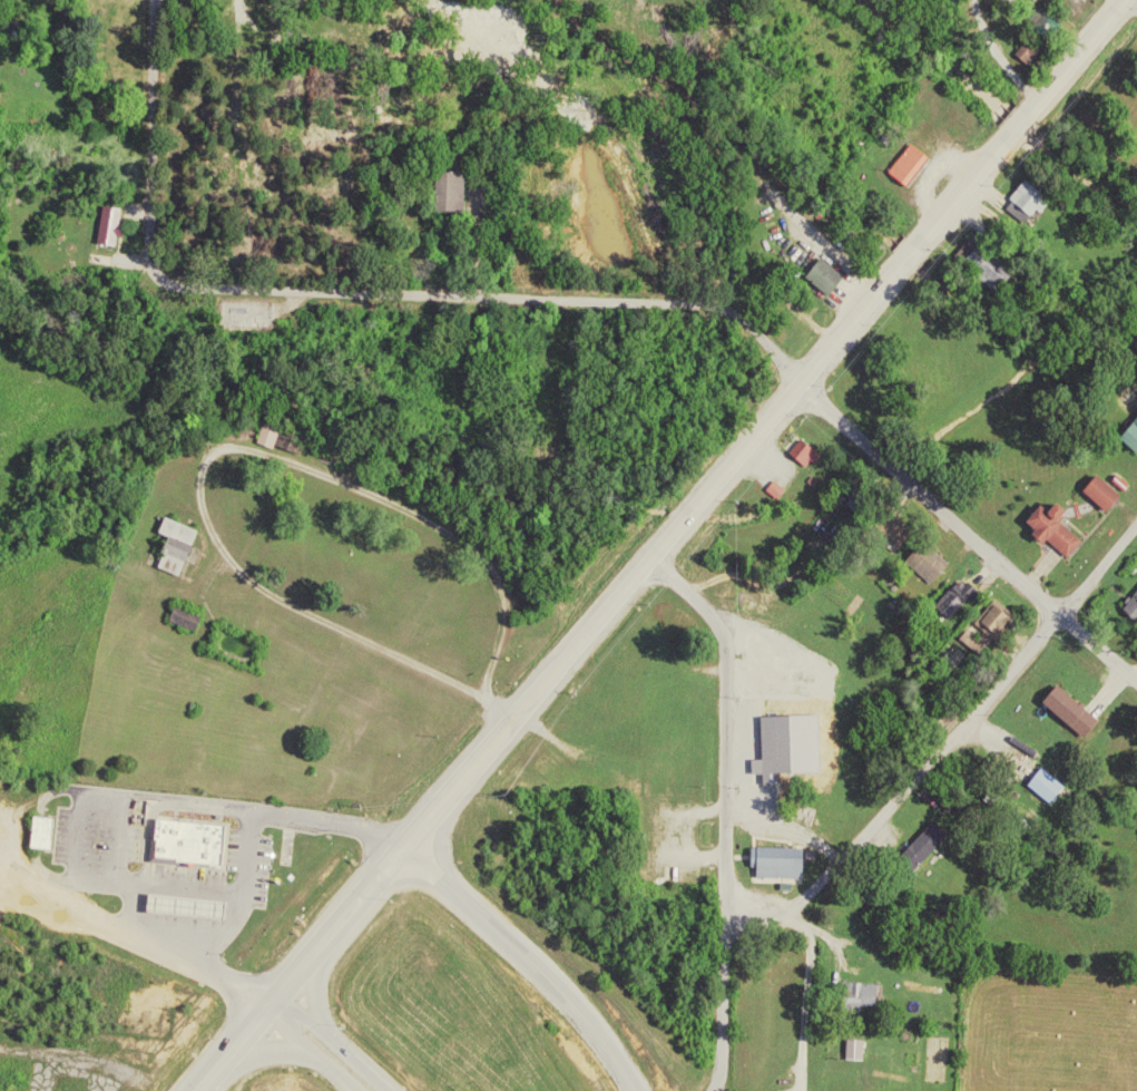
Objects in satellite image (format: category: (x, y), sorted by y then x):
building: (1041, 20)
building: (1025, 47)
road: (1076, 52)
road: (1018, 121)
building: (905, 162)
building: (454, 192)
building: (1025, 199)
building: (109, 225)
building: (984, 257)
building: (821, 271)
road: (354, 292)
building: (1129, 426)
building: (264, 437)
building: (798, 449)
road: (217, 457)
building: (772, 486)
building: (1099, 487)
building: (1049, 523)
road: (967, 532)
building: (177, 546)
building: (923, 556)
road: (641, 566)
building: (949, 592)
building: (1130, 598)
building: (954, 601)
building: (185, 620)
building: (984, 624)
building: (1068, 705)
road: (724, 724)
building: (783, 740)
road: (942, 744)
building: (1041, 780)
building: (43, 834)
building: (189, 844)
building: (918, 844)
building: (773, 858)
road: (528, 958)
road: (312, 988)
building: (863, 995)
road: (784, 996)
road: (721, 1006)
road: (238, 1043)
road: (333, 1043)
building: (853, 1051)
road: (271, 1052)
road: (308, 1053)

